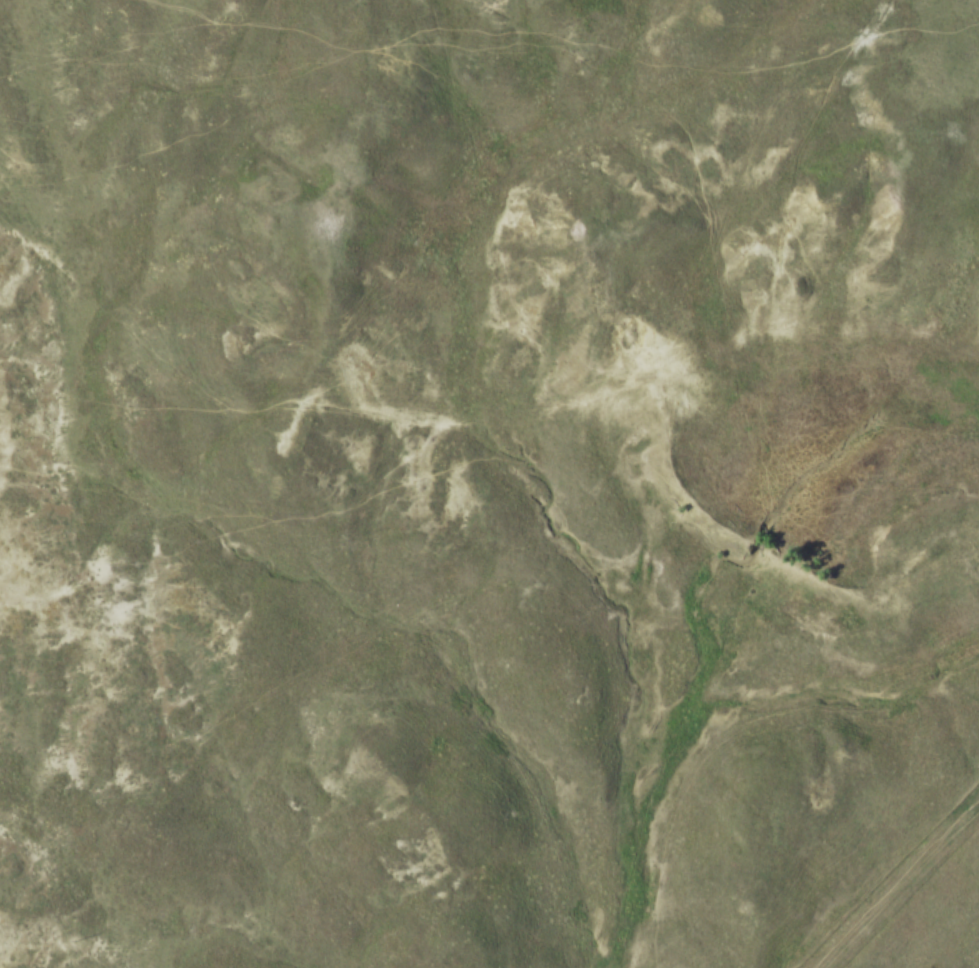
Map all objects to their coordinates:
road: (913, 904)

